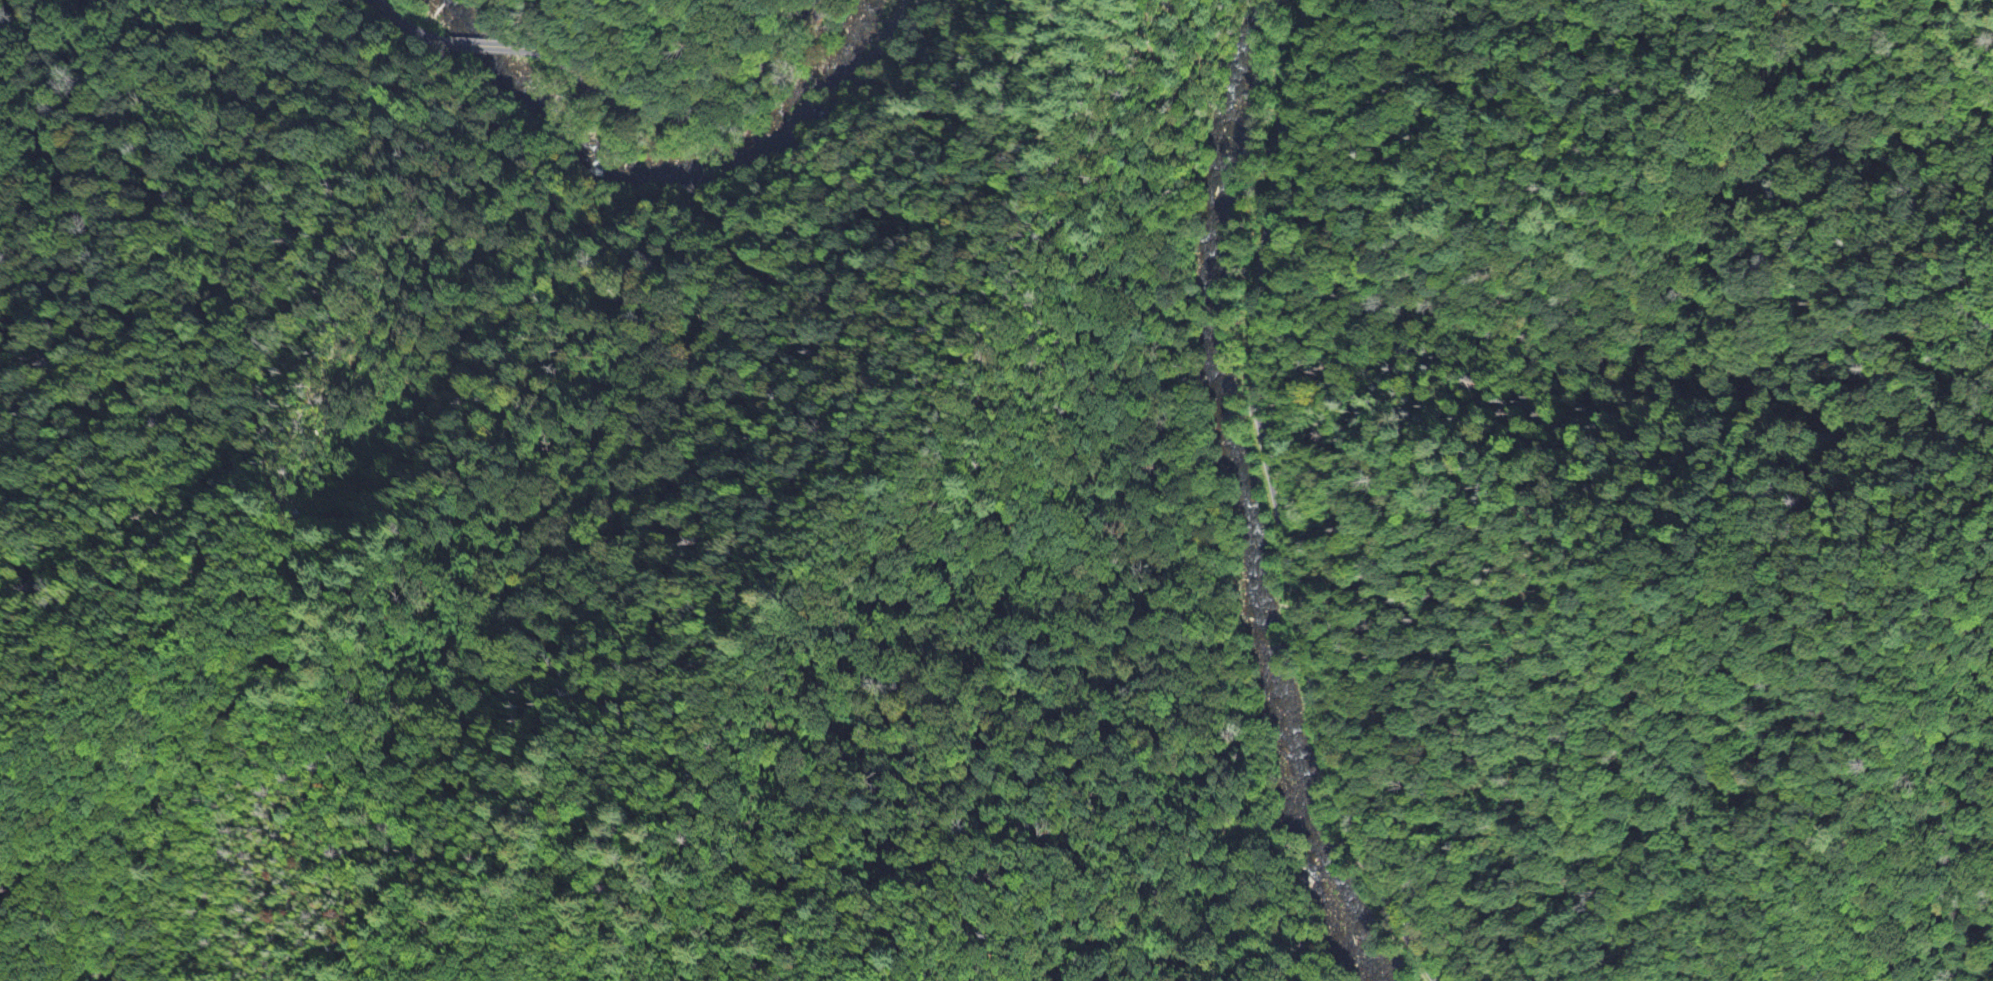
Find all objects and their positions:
road: (399, 22)
road: (488, 46)
river: (524, 92)
road: (698, 112)
river: (778, 125)
river: (1243, 126)
road: (1276, 502)
river: (1262, 632)

